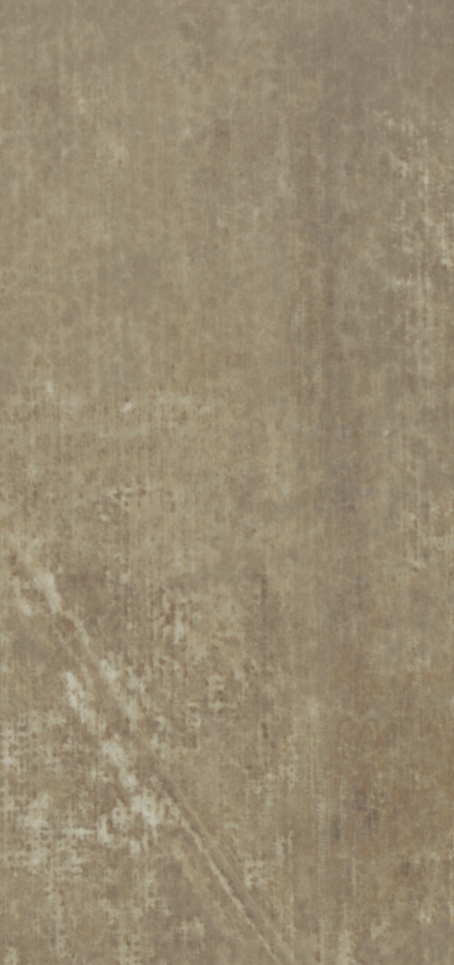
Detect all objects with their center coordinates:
road: (158, 728)

